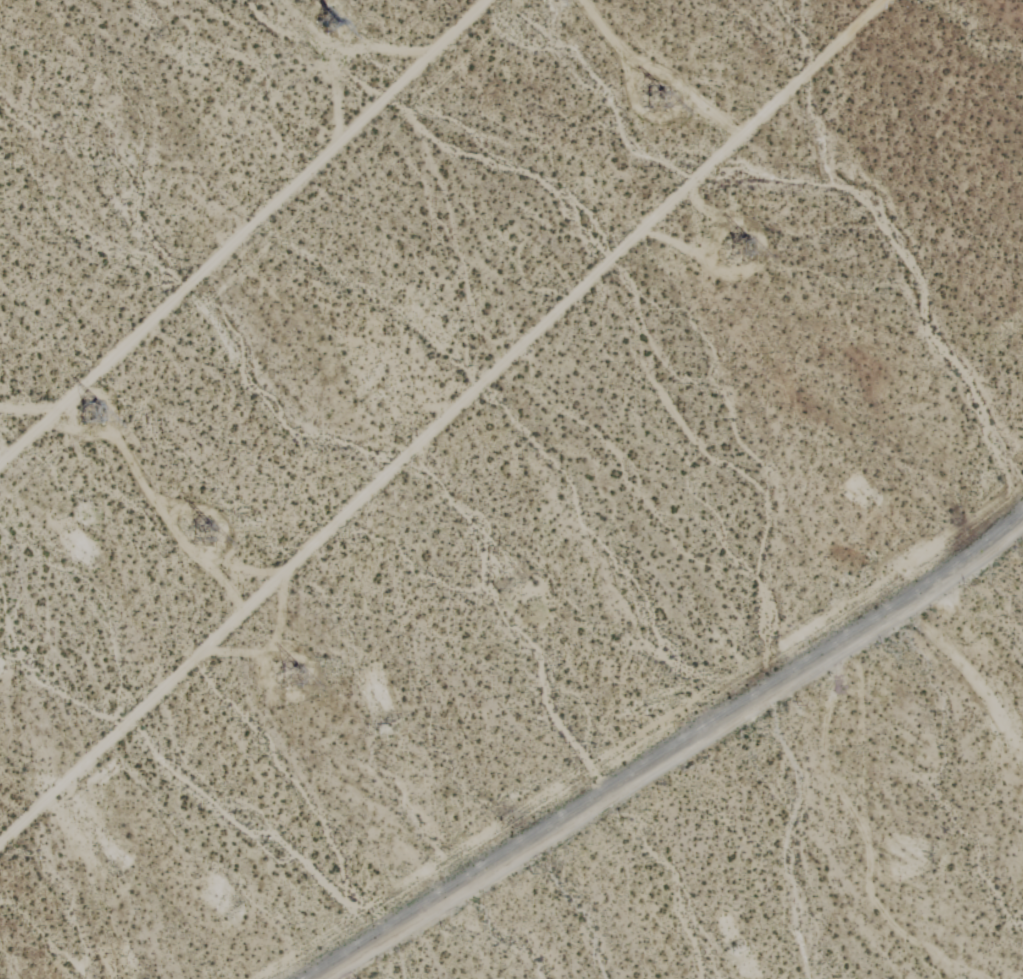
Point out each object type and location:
power tower: (329, 23)
power tower: (657, 100)
road: (244, 232)
power tower: (742, 250)
power tower: (87, 411)
road: (441, 421)
power tower: (205, 532)
power tower: (288, 678)
railway: (664, 747)
road: (678, 756)

